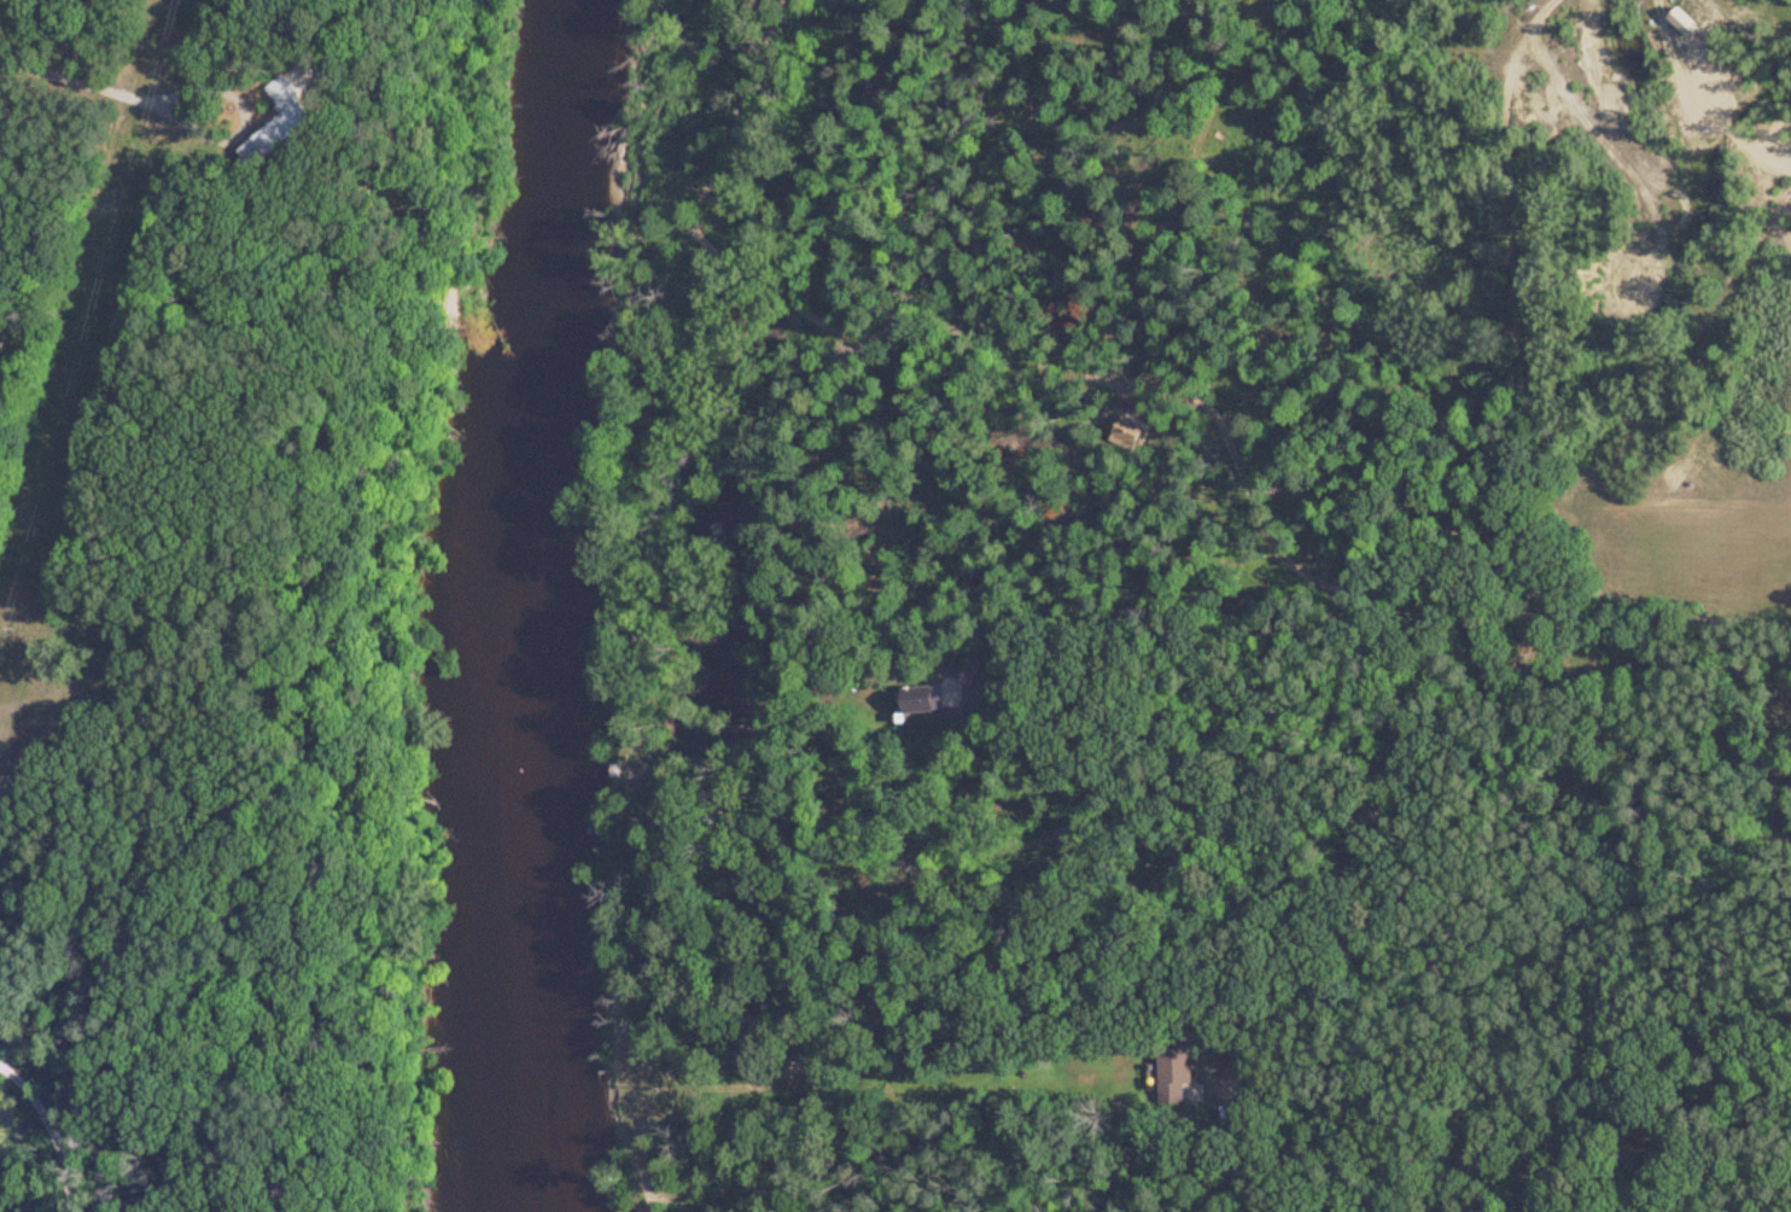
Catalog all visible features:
road: (1698, 1)
road: (1527, 29)
road: (112, 89)
river: (512, 605)
building: (928, 703)
building: (1168, 1073)
road: (1512, 1109)
road: (52, 1134)

